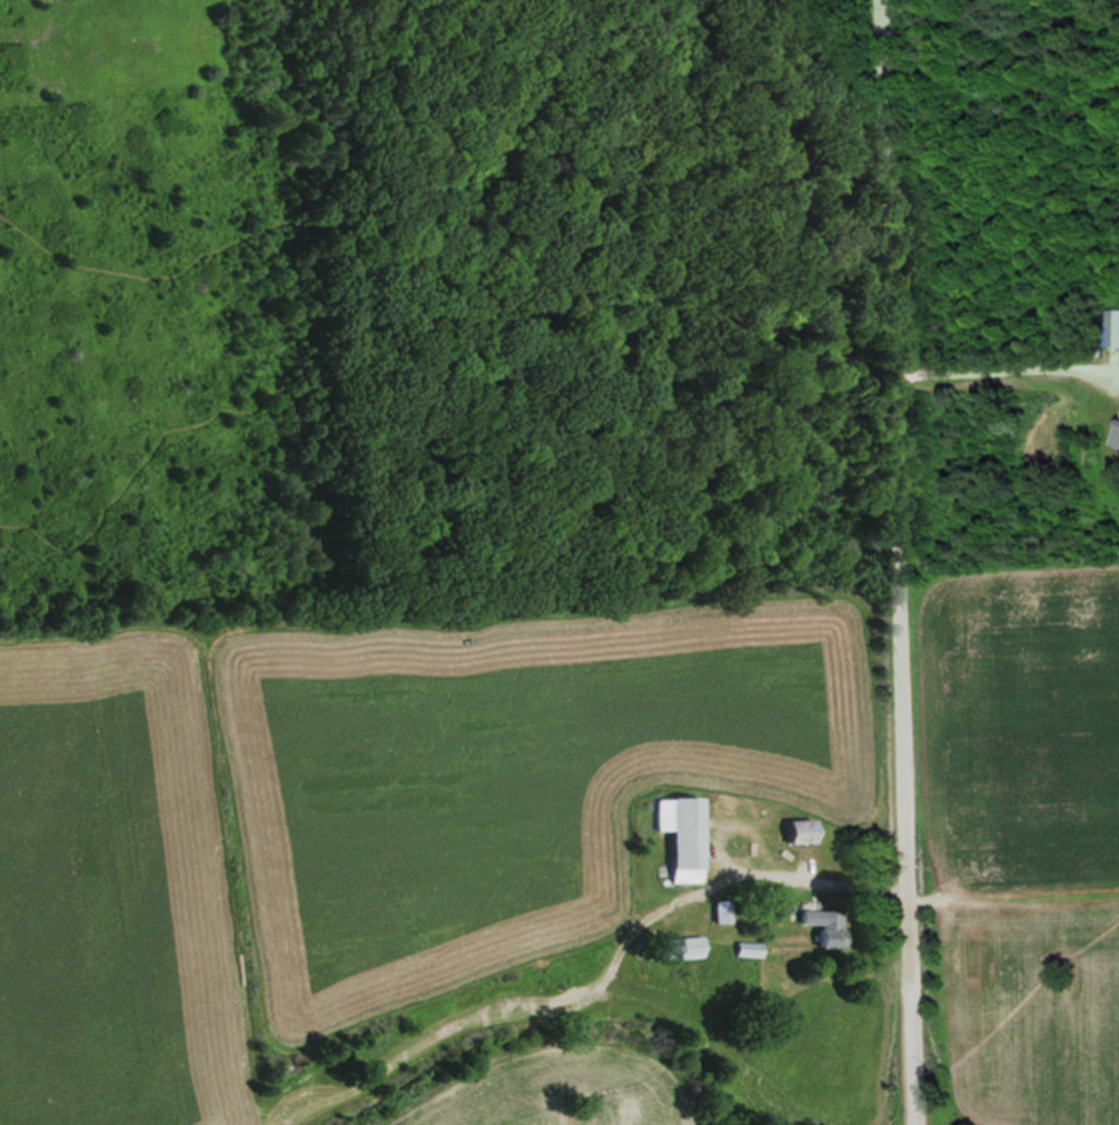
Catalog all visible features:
road: (1004, 362)
building: (1118, 442)
road: (892, 494)
building: (803, 831)
building: (684, 836)
building: (828, 927)
building: (682, 948)
road: (910, 1057)

